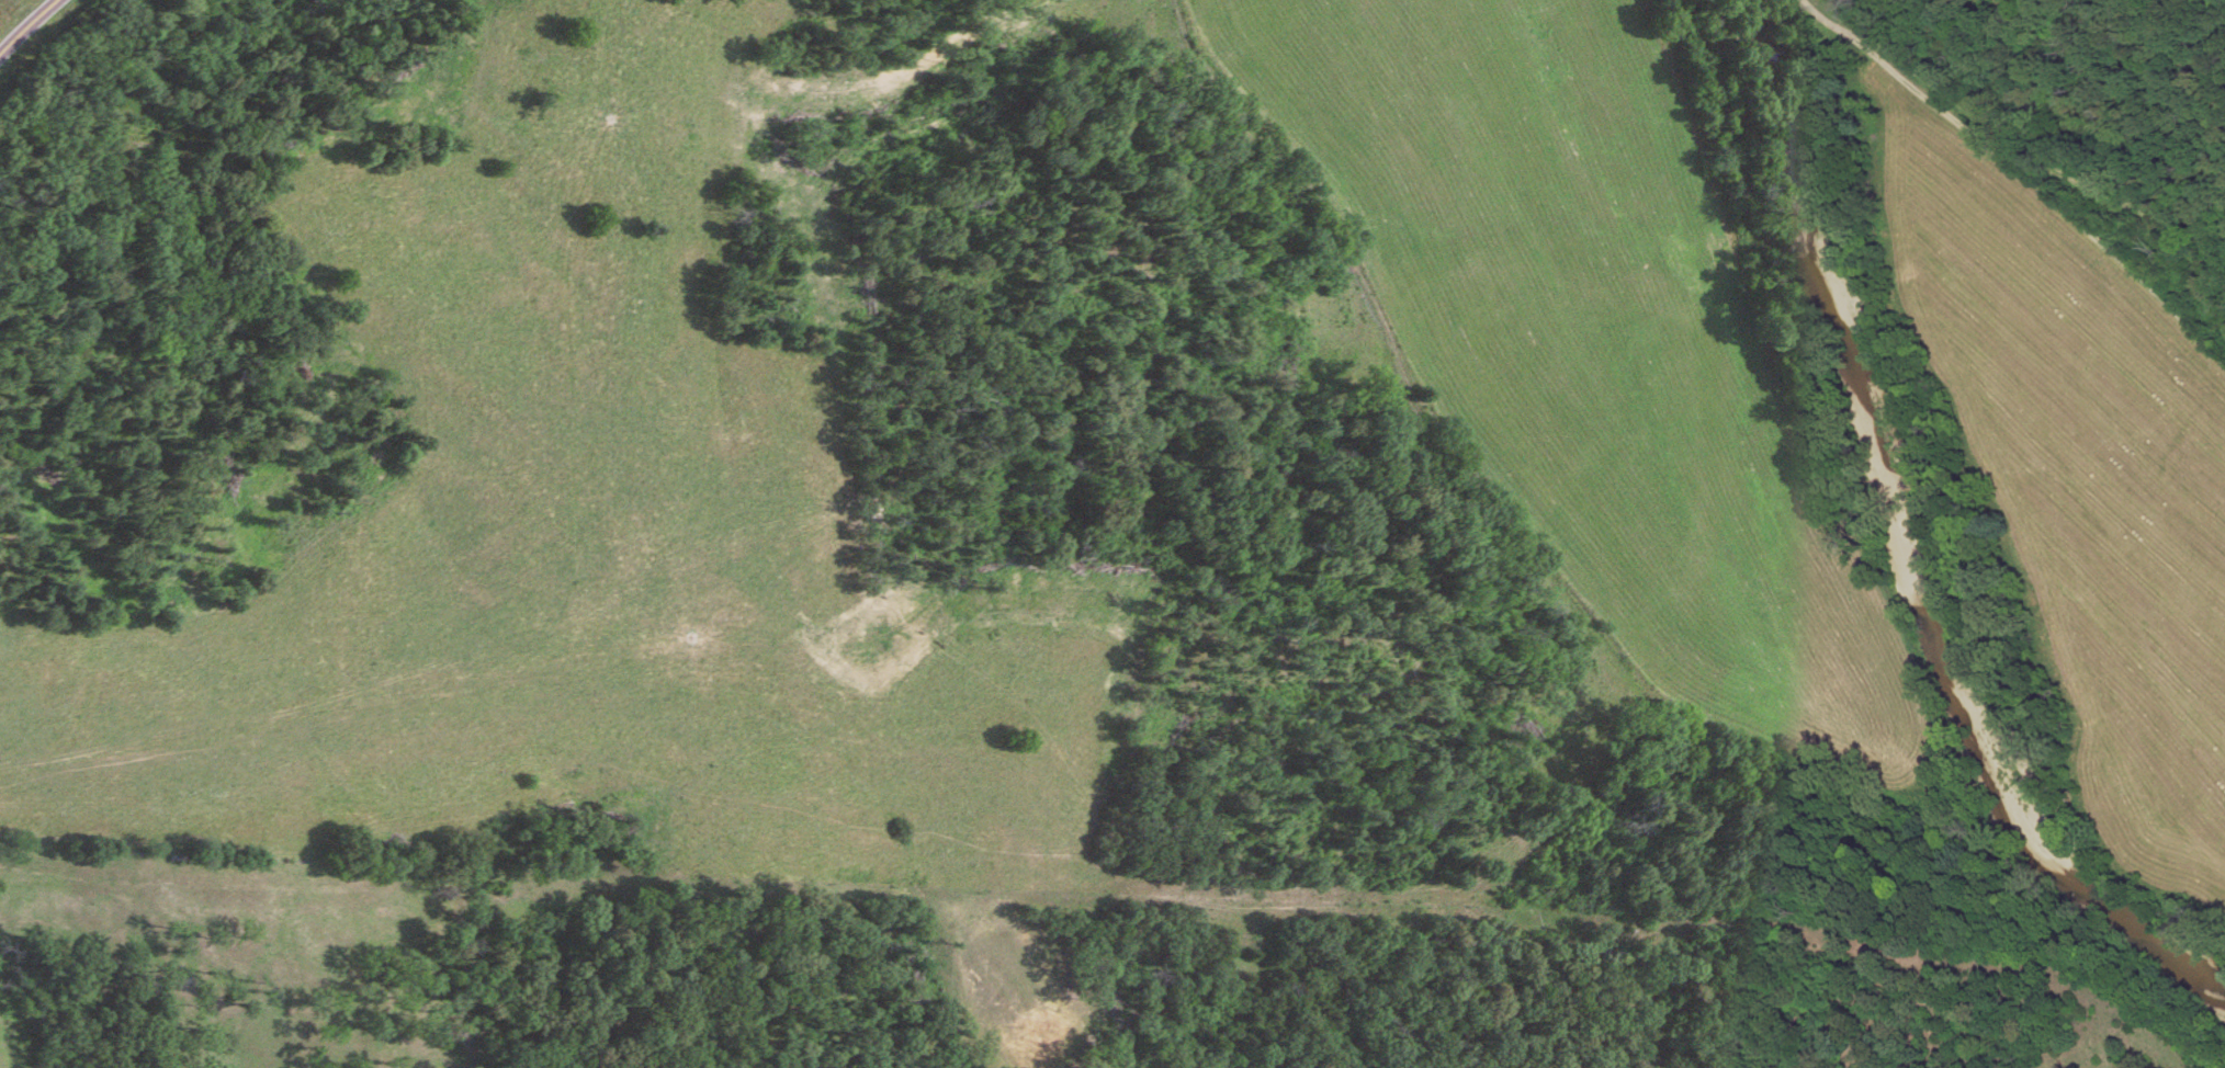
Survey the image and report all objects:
road: (23, 20)

